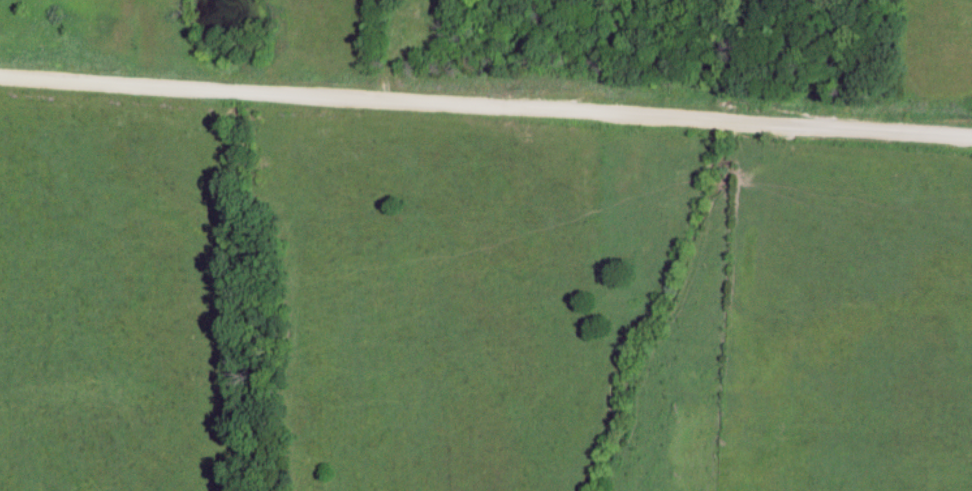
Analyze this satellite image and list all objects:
road: (486, 98)

